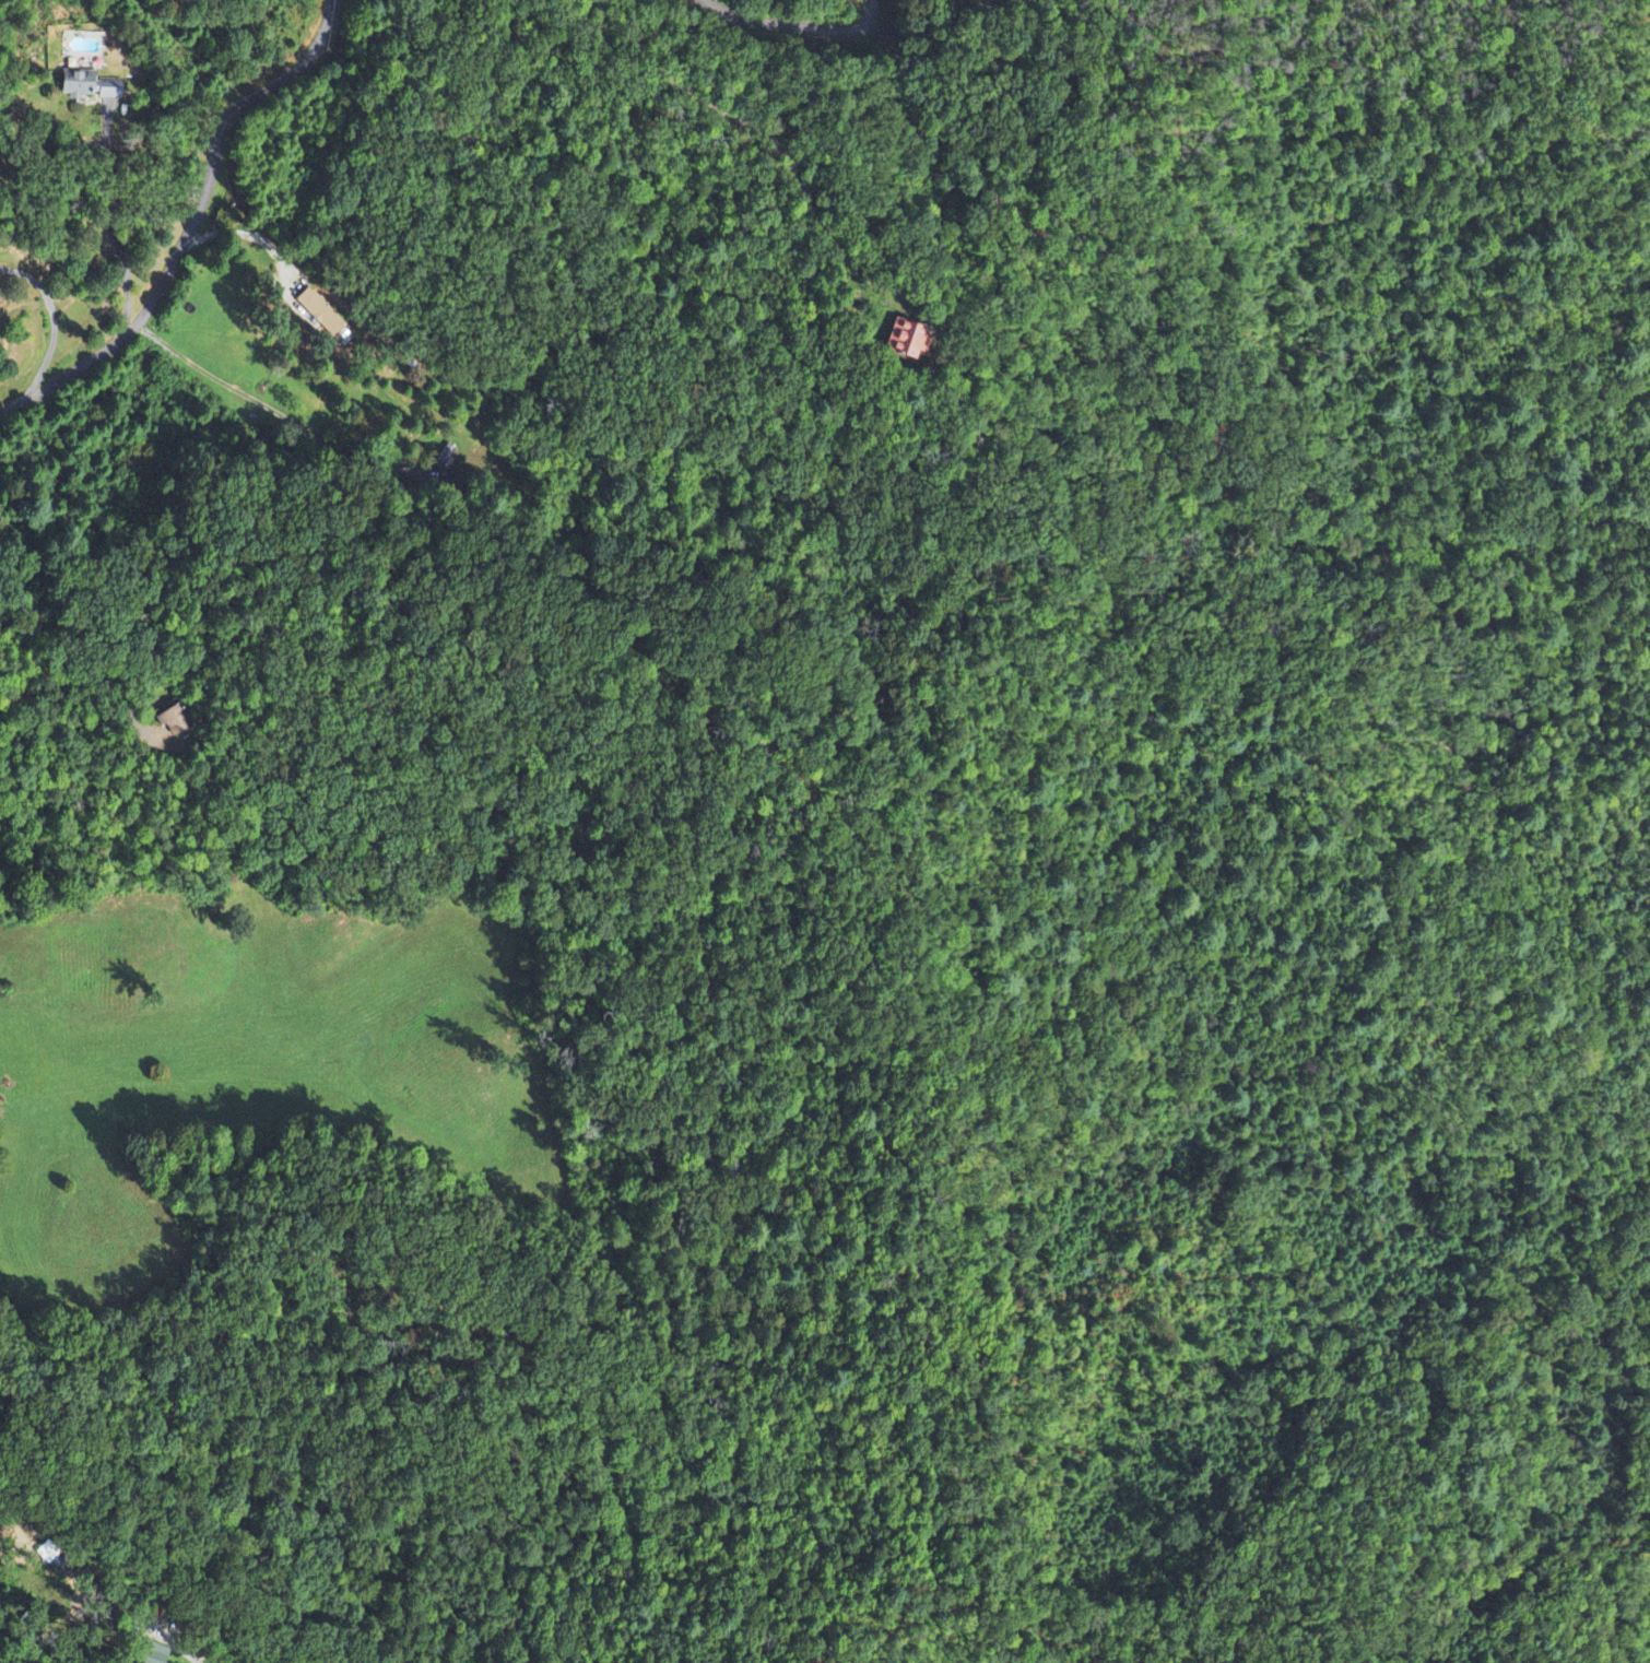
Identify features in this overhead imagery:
road: (781, 48)
building: (87, 86)
road: (191, 226)
building: (319, 312)
building: (173, 722)
building: (149, 1653)

